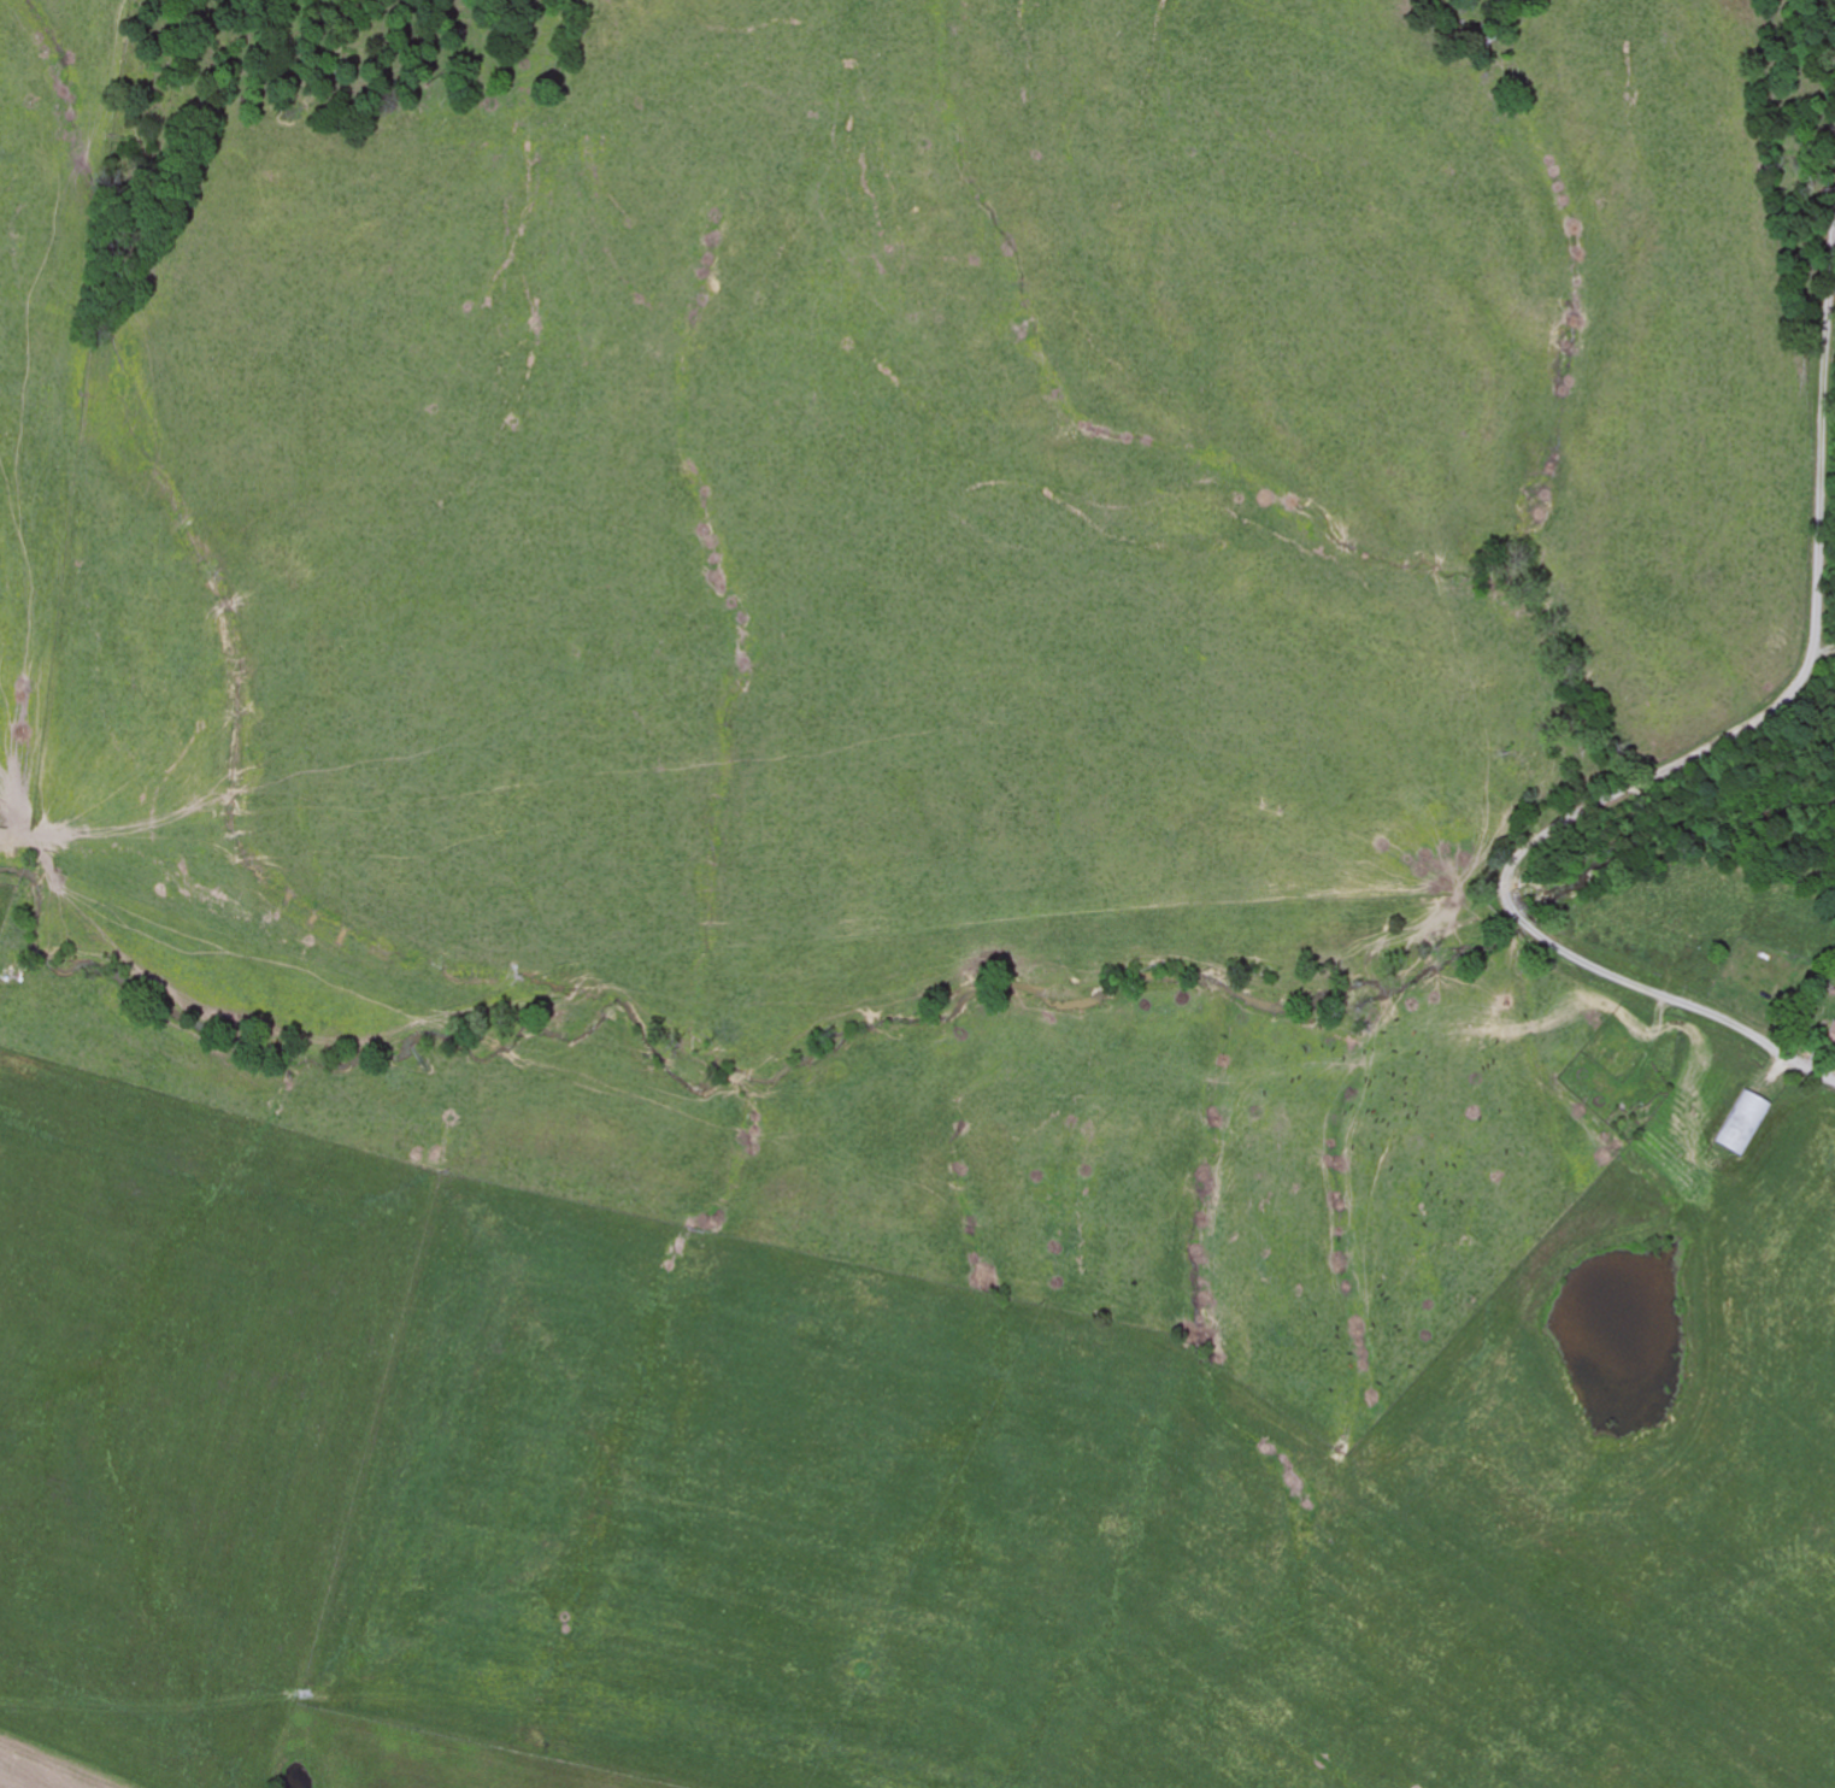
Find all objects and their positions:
road: (1668, 771)
building: (1830, 1036)

